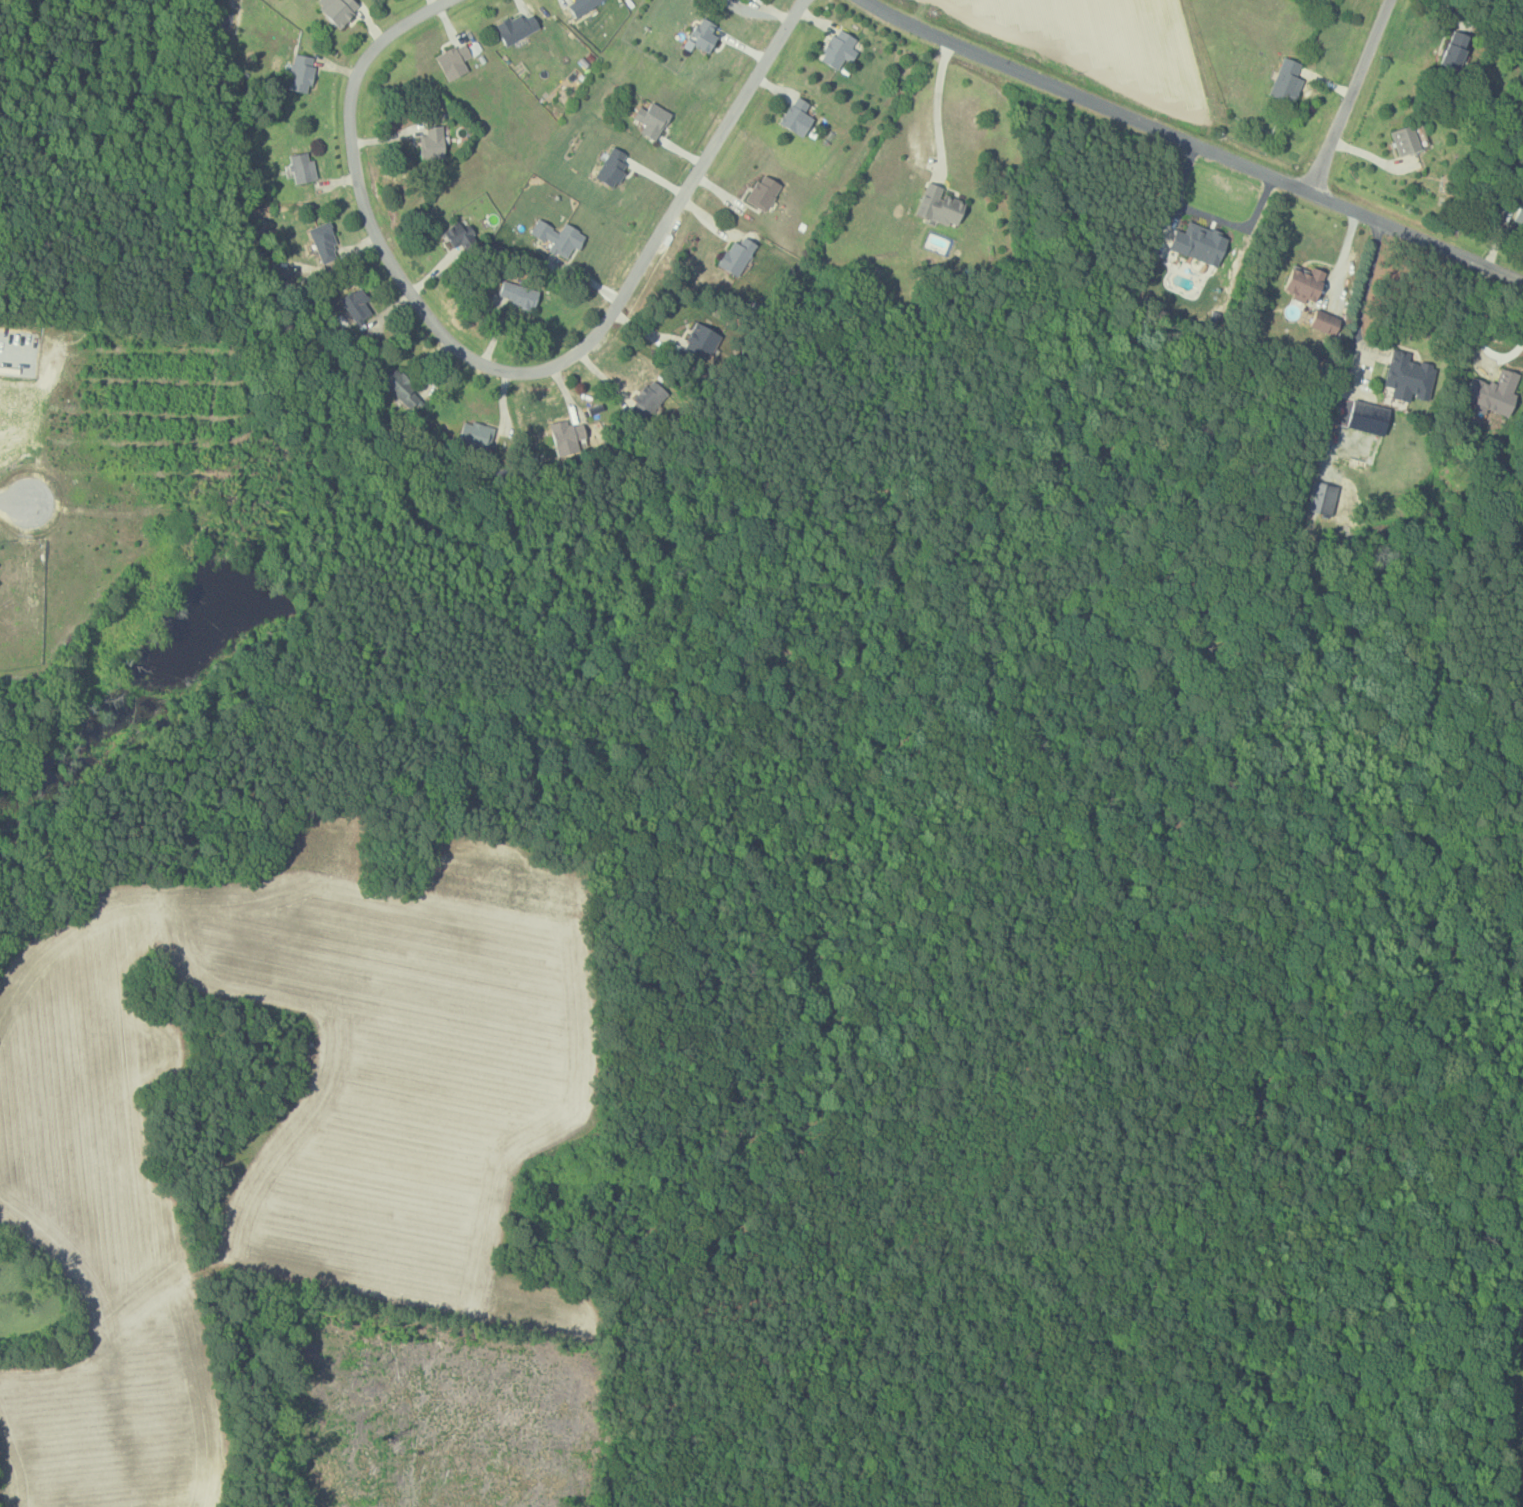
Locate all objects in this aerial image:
building: (581, 5)
building: (339, 9)
building: (518, 25)
building: (705, 33)
building: (840, 48)
building: (1458, 48)
building: (457, 58)
building: (300, 76)
building: (1288, 79)
road: (1348, 96)
road: (938, 112)
building: (798, 115)
building: (653, 118)
building: (1407, 139)
building: (432, 141)
road: (1189, 146)
building: (303, 166)
building: (613, 166)
building: (765, 191)
building: (941, 204)
road: (1207, 215)
building: (1520, 215)
building: (463, 230)
building: (558, 236)
building: (324, 240)
building: (1201, 242)
building: (738, 254)
building: (1306, 282)
building: (516, 293)
road: (1359, 299)
building: (352, 307)
road: (1475, 318)
building: (1326, 321)
building: (702, 340)
road: (513, 369)
building: (1410, 375)
building: (403, 386)
building: (649, 399)
building: (1362, 415)
building: (477, 434)
building: (568, 436)
building: (1322, 498)
road: (12, 501)

